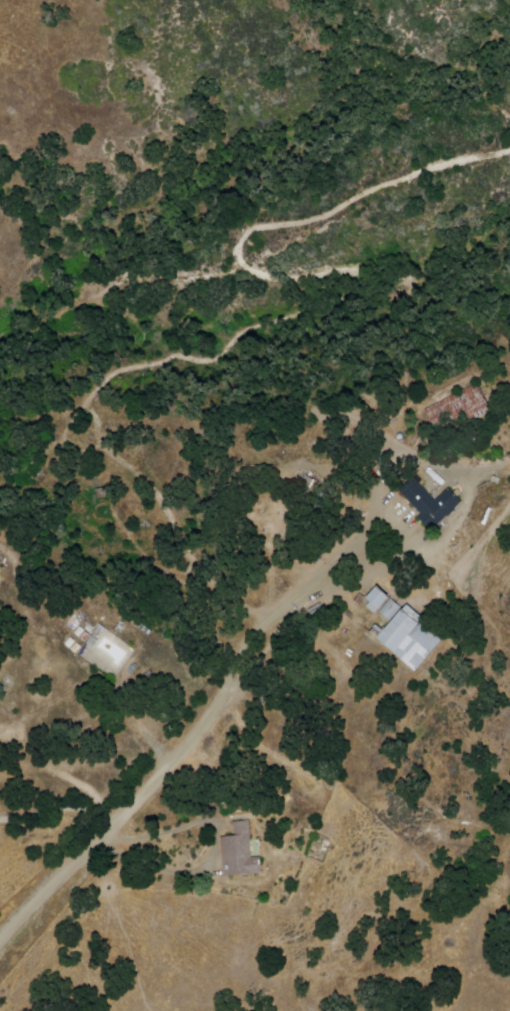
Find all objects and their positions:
building: (458, 413)
building: (430, 504)
road: (378, 510)
building: (382, 604)
building: (69, 624)
building: (411, 638)
road: (143, 787)
road: (55, 807)
building: (239, 852)

